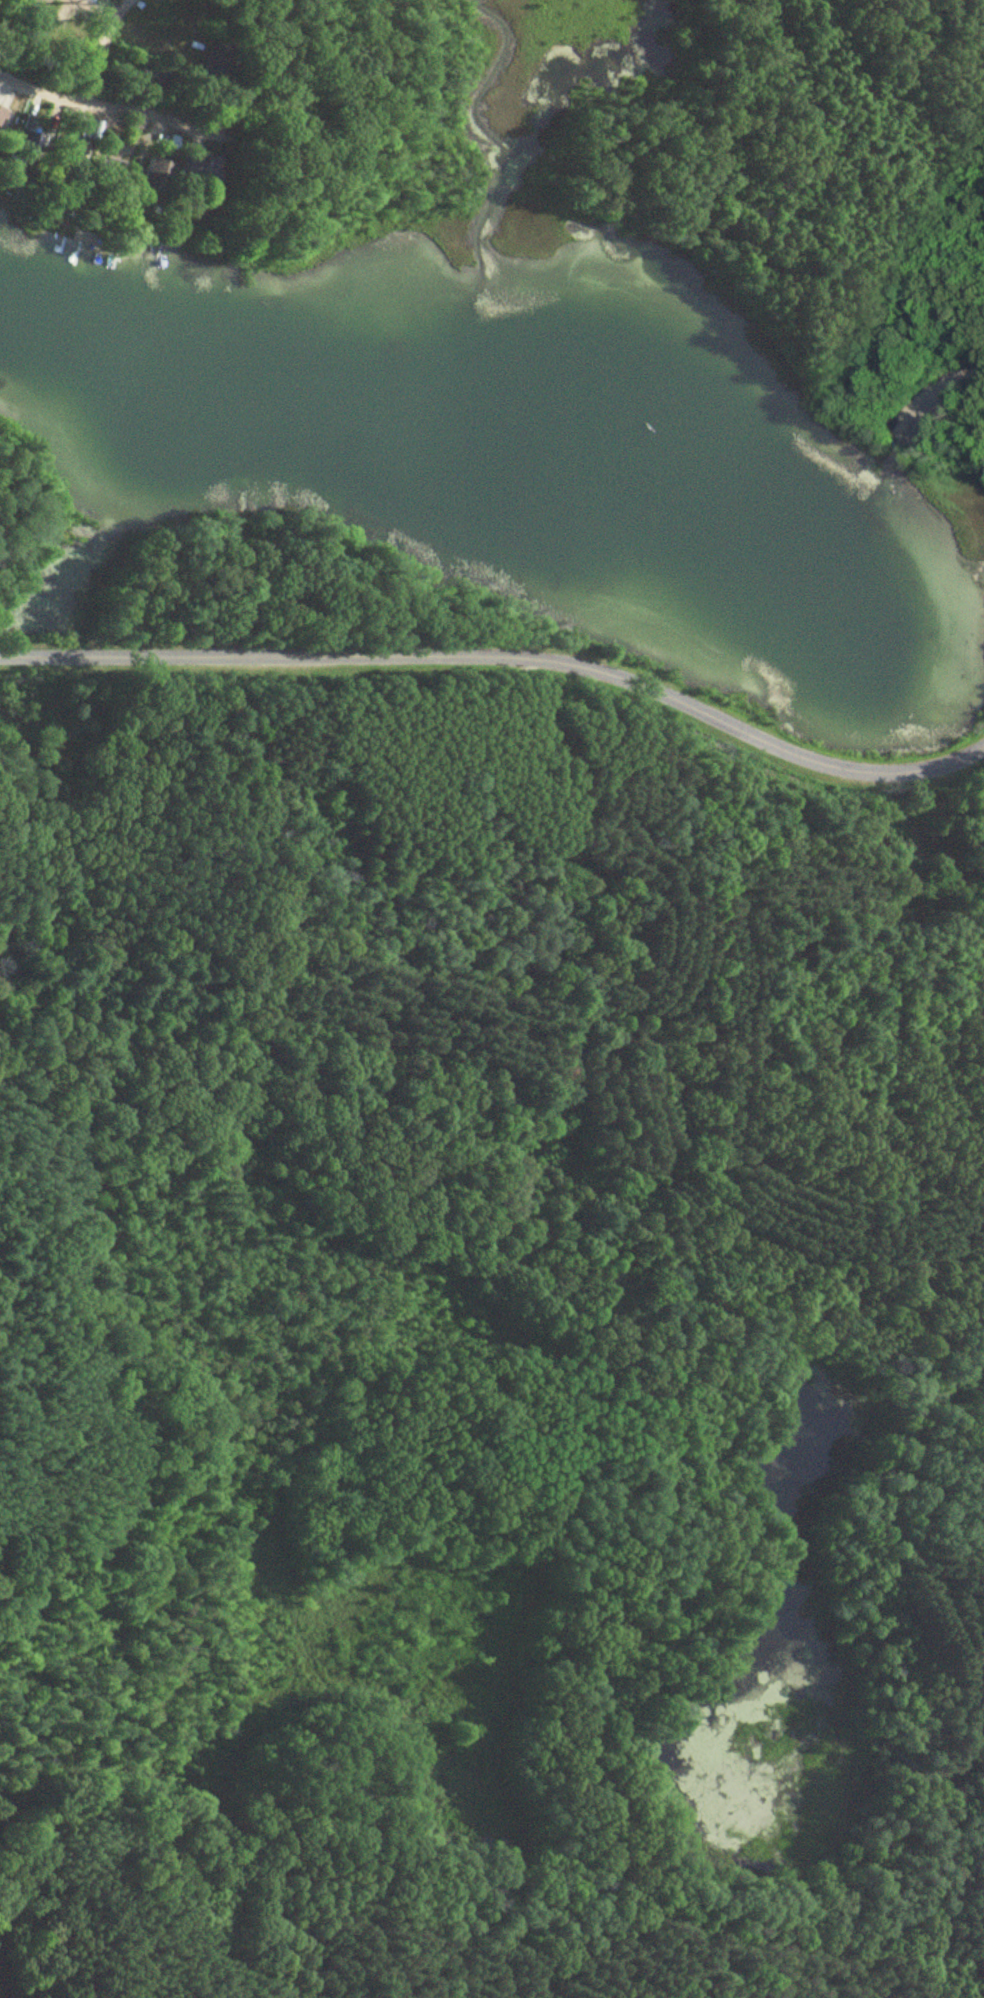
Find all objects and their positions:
road: (97, 10)
road: (101, 50)
road: (91, 105)
building: (87, 130)
building: (29, 147)
building: (153, 174)
building: (199, 176)
road: (963, 374)
parking lot: (918, 408)
road: (506, 654)
road: (645, 1425)

